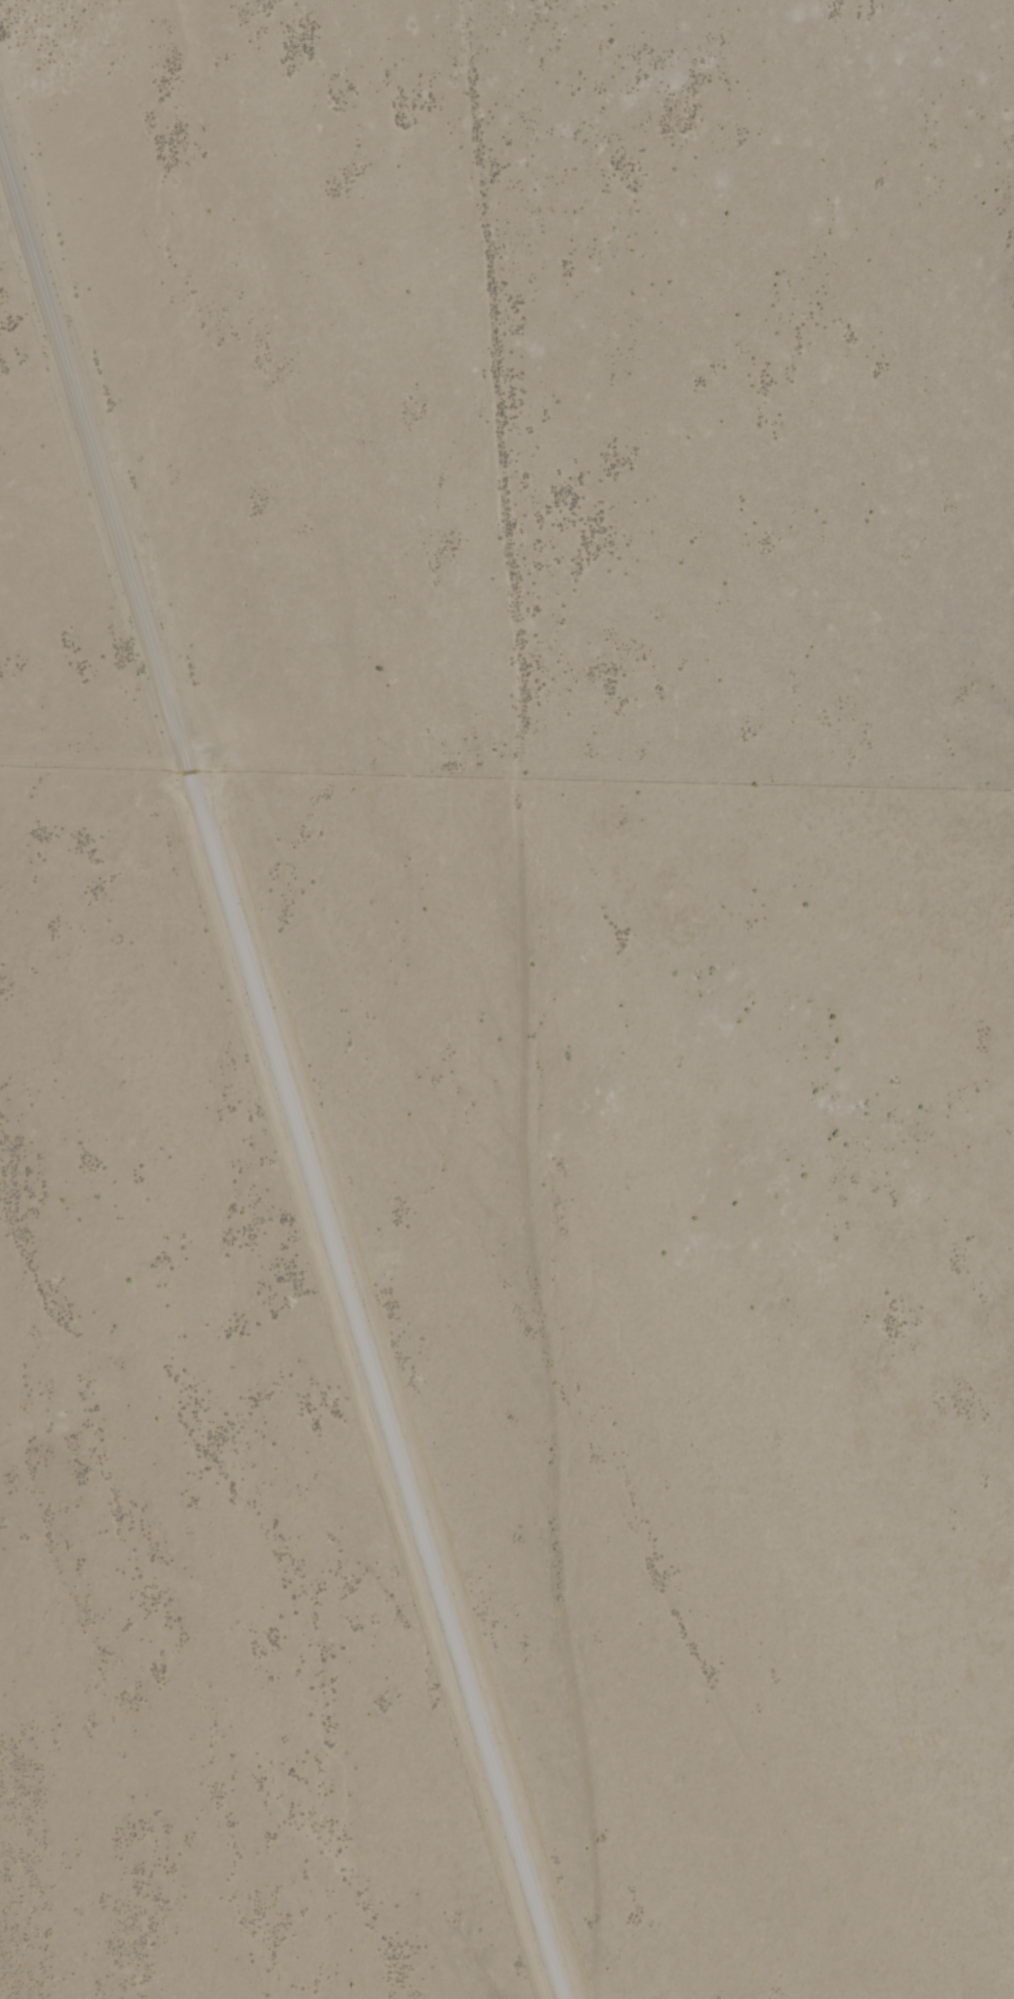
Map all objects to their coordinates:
road: (93, 456)
road: (376, 1384)

